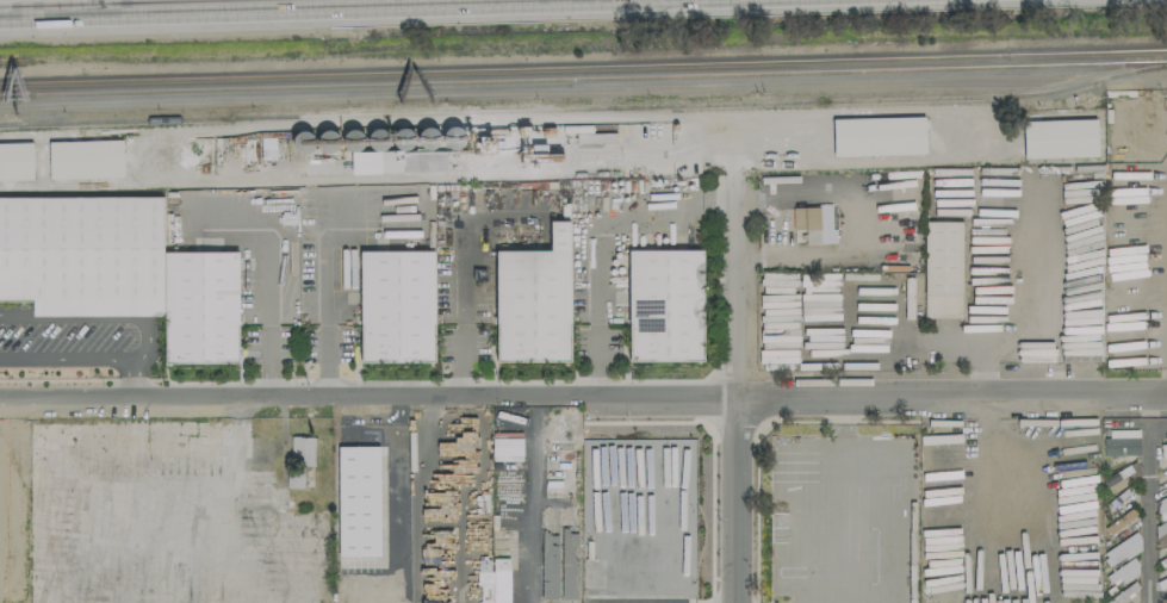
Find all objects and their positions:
railway: (583, 67)
railway: (583, 76)
railway: (584, 106)
building: (879, 136)
building: (1060, 138)
building: (85, 158)
building: (397, 160)
building: (15, 161)
building: (814, 223)
road: (592, 268)
building: (942, 268)
road: (266, 269)
building: (118, 271)
road: (327, 272)
building: (534, 300)
road: (461, 304)
building: (664, 305)
building: (396, 306)
road: (1026, 327)
road: (144, 338)
road: (740, 369)
road: (131, 378)
road: (583, 394)
road: (429, 402)
building: (505, 449)
building: (299, 456)
building: (1122, 477)
road: (530, 497)
road: (845, 497)
road: (421, 499)
building: (358, 501)
road: (1144, 502)
road: (228, 503)
building: (1161, 506)
road: (161, 520)
building: (484, 580)
building: (501, 580)
building: (1163, 601)

